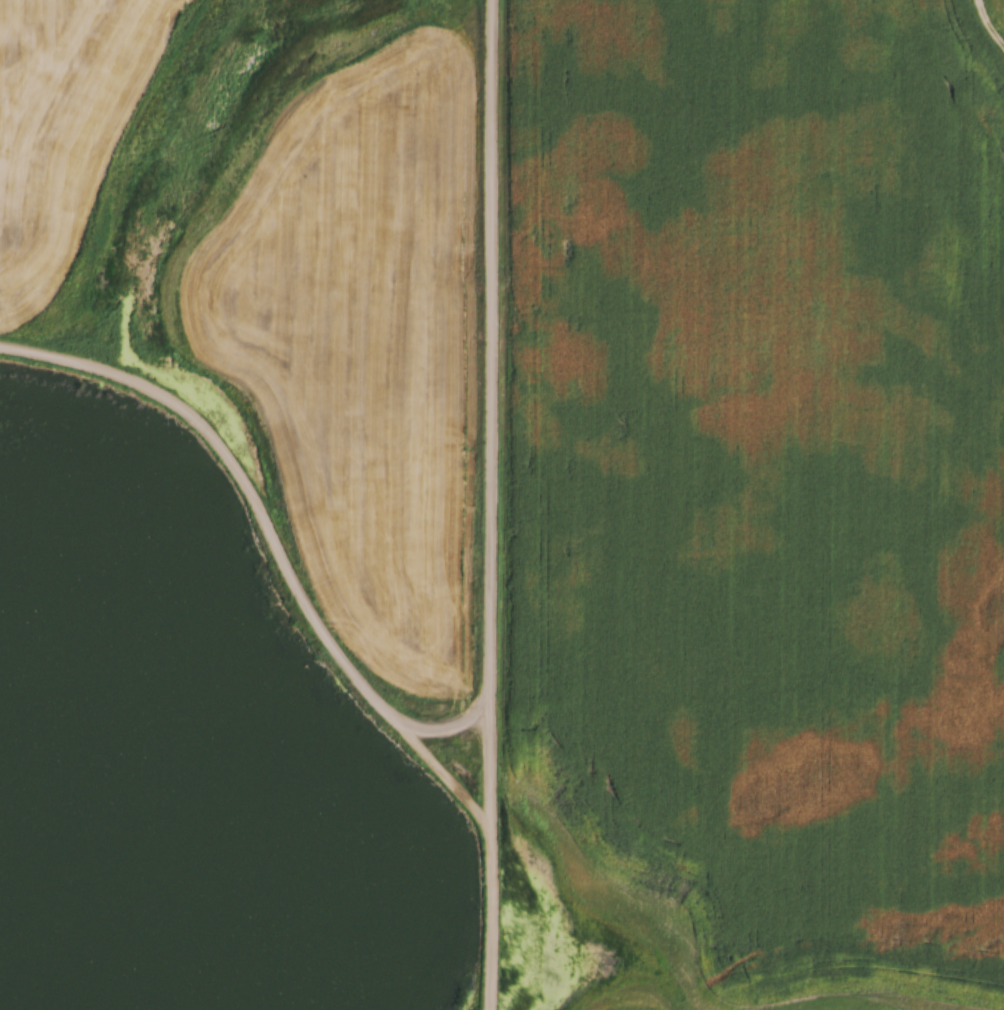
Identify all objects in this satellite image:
road: (493, 505)
road: (275, 547)
road: (458, 736)

